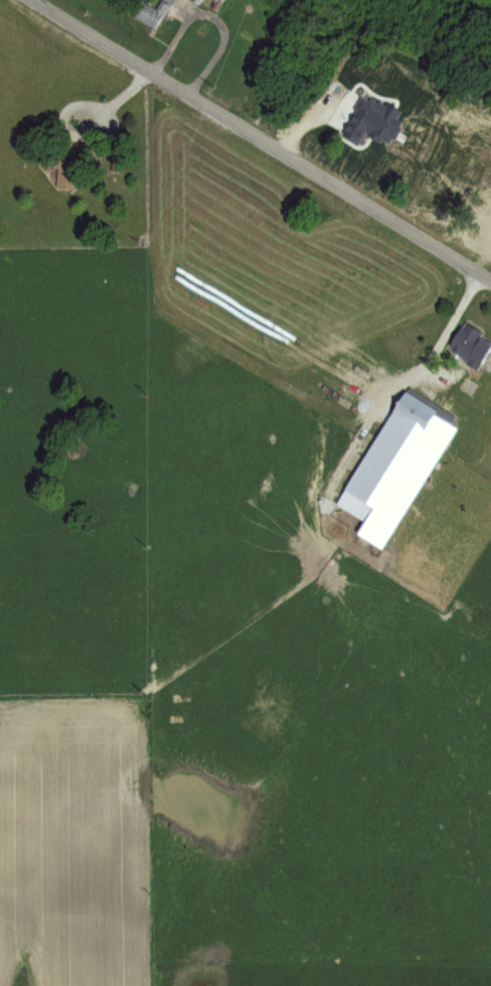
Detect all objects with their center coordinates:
building: (209, 2)
building: (151, 12)
road: (213, 14)
road: (89, 130)
road: (262, 140)
building: (69, 163)
crop: (484, 238)
road: (446, 321)
building: (469, 339)
building: (343, 381)
building: (394, 461)
crop: (154, 491)

